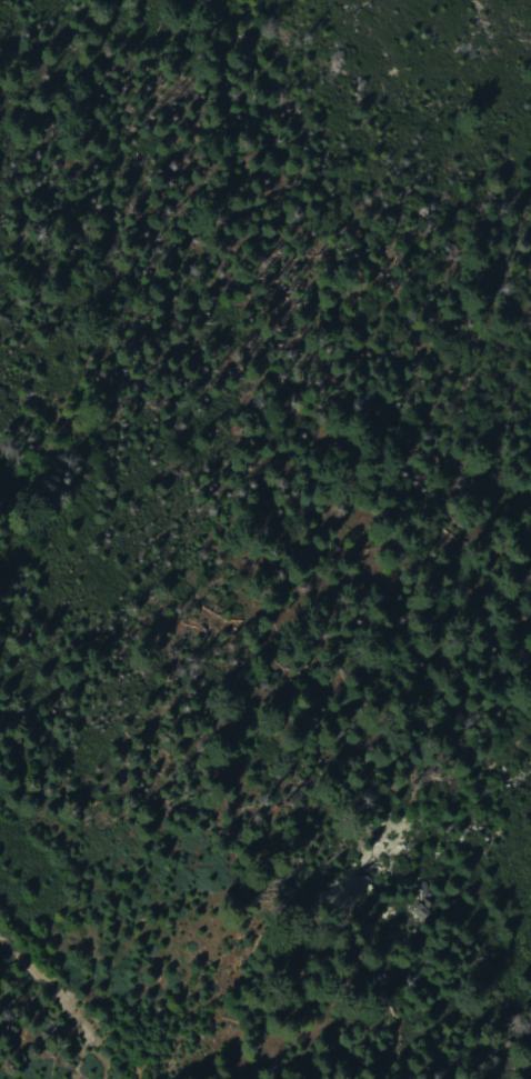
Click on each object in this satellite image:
road: (60, 1001)

